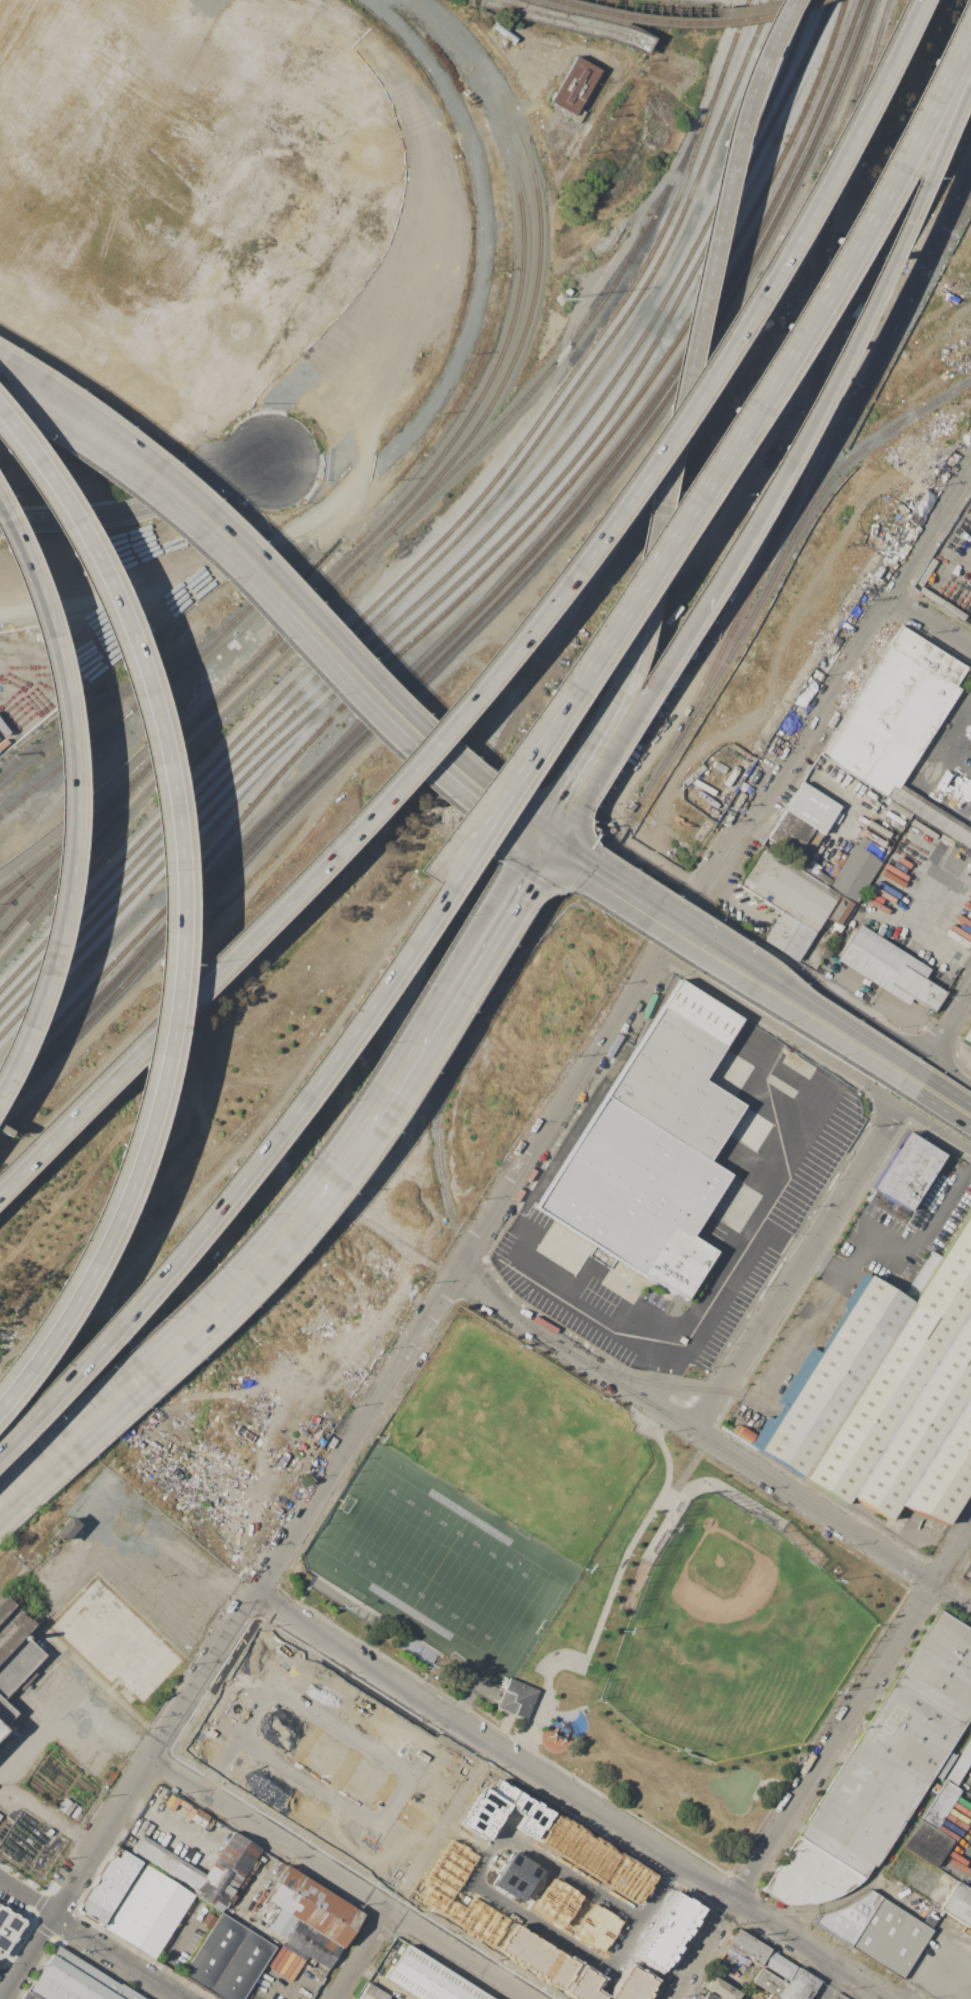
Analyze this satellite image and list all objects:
building: (523, 10)
railway: (568, 21)
railway: (680, 25)
road: (750, 73)
building: (573, 87)
railway: (822, 101)
road: (943, 117)
railway: (909, 286)
railway: (913, 298)
railway: (513, 353)
road: (686, 354)
railway: (812, 385)
road: (820, 387)
road: (64, 432)
road: (731, 433)
railway: (862, 447)
railway: (442, 450)
road: (654, 450)
railway: (615, 469)
road: (139, 508)
railway: (398, 518)
railway: (440, 540)
railway: (449, 547)
railway: (465, 556)
railway: (476, 565)
road: (277, 578)
railway: (479, 579)
road: (695, 611)
road: (263, 617)
road: (930, 622)
road: (285, 626)
railway: (418, 670)
railway: (135, 688)
railway: (160, 688)
road: (969, 694)
road: (969, 697)
road: (608, 698)
building: (893, 711)
road: (942, 734)
road: (616, 738)
railway: (175, 751)
road: (69, 775)
road: (839, 793)
railway: (629, 814)
building: (930, 815)
road: (487, 818)
building: (802, 818)
traffic signals: (535, 826)
road: (545, 832)
road: (534, 839)
traffic signals: (555, 839)
road: (544, 846)
railway: (75, 848)
traffic signals: (534, 853)
railway: (45, 856)
building: (857, 871)
road: (521, 875)
railway: (10, 883)
railway: (46, 889)
building: (787, 889)
road: (636, 892)
railway: (13, 896)
road: (175, 907)
building: (840, 911)
building: (789, 936)
road: (954, 954)
road: (229, 956)
road: (737, 956)
building: (889, 968)
road: (715, 969)
railway: (125, 984)
road: (831, 994)
road: (832, 1017)
road: (951, 1026)
road: (419, 1033)
building: (968, 1035)
road: (816, 1050)
road: (952, 1055)
road: (9, 1065)
building: (681, 1071)
road: (424, 1078)
road: (940, 1085)
road: (935, 1104)
road: (932, 1117)
road: (64, 1123)
road: (250, 1161)
building: (908, 1172)
road: (510, 1190)
building: (636, 1197)
road: (855, 1244)
road: (742, 1253)
road: (822, 1263)
road: (799, 1267)
road: (588, 1310)
road: (154, 1360)
railway: (587, 1360)
road: (659, 1381)
building: (888, 1394)
park: (525, 1441)
road: (713, 1442)
railway: (770, 1478)
building: (65, 1529)
park: (440, 1566)
railway: (938, 1584)
park: (597, 1589)
road: (13, 1605)
road: (605, 1606)
road: (34, 1625)
park: (734, 1636)
building: (941, 1668)
building: (16, 1674)
building: (517, 1699)
road: (64, 1700)
road: (961, 1739)
building: (969, 1739)
road: (822, 1763)
building: (943, 1764)
road: (944, 1765)
building: (959, 1766)
building: (878, 1780)
road: (967, 1784)
railway: (556, 1787)
road: (571, 1797)
building: (940, 1804)
road: (48, 1815)
road: (902, 1830)
building: (928, 1842)
road: (196, 1843)
building: (129, 1860)
road: (958, 1861)
building: (167, 1863)
building: (226, 1871)
building: (515, 1876)
building: (808, 1876)
road: (342, 1879)
building: (620, 1886)
building: (106, 1889)
road: (27, 1900)
building: (555, 1902)
building: (959, 1903)
building: (233, 1905)
road: (832, 1905)
building: (308, 1906)
building: (248, 1907)
building: (149, 1911)
building: (190, 1911)
building: (209, 1920)
building: (246, 1924)
building: (596, 1928)
building: (8, 1929)
building: (879, 1931)
road: (179, 1944)
building: (313, 1944)
building: (747, 1947)
road: (364, 1955)
road: (29, 1958)
road: (118, 1958)
building: (228, 1959)
building: (778, 1964)
road: (923, 1969)
road: (302, 1976)
building: (429, 1979)
building: (76, 1981)
building: (769, 1982)
road: (829, 1983)
building: (800, 1986)
road: (295, 1987)
building: (722, 1989)
building: (372, 1993)
building: (29, 1995)
building: (709, 1996)
road: (250, 1998)

